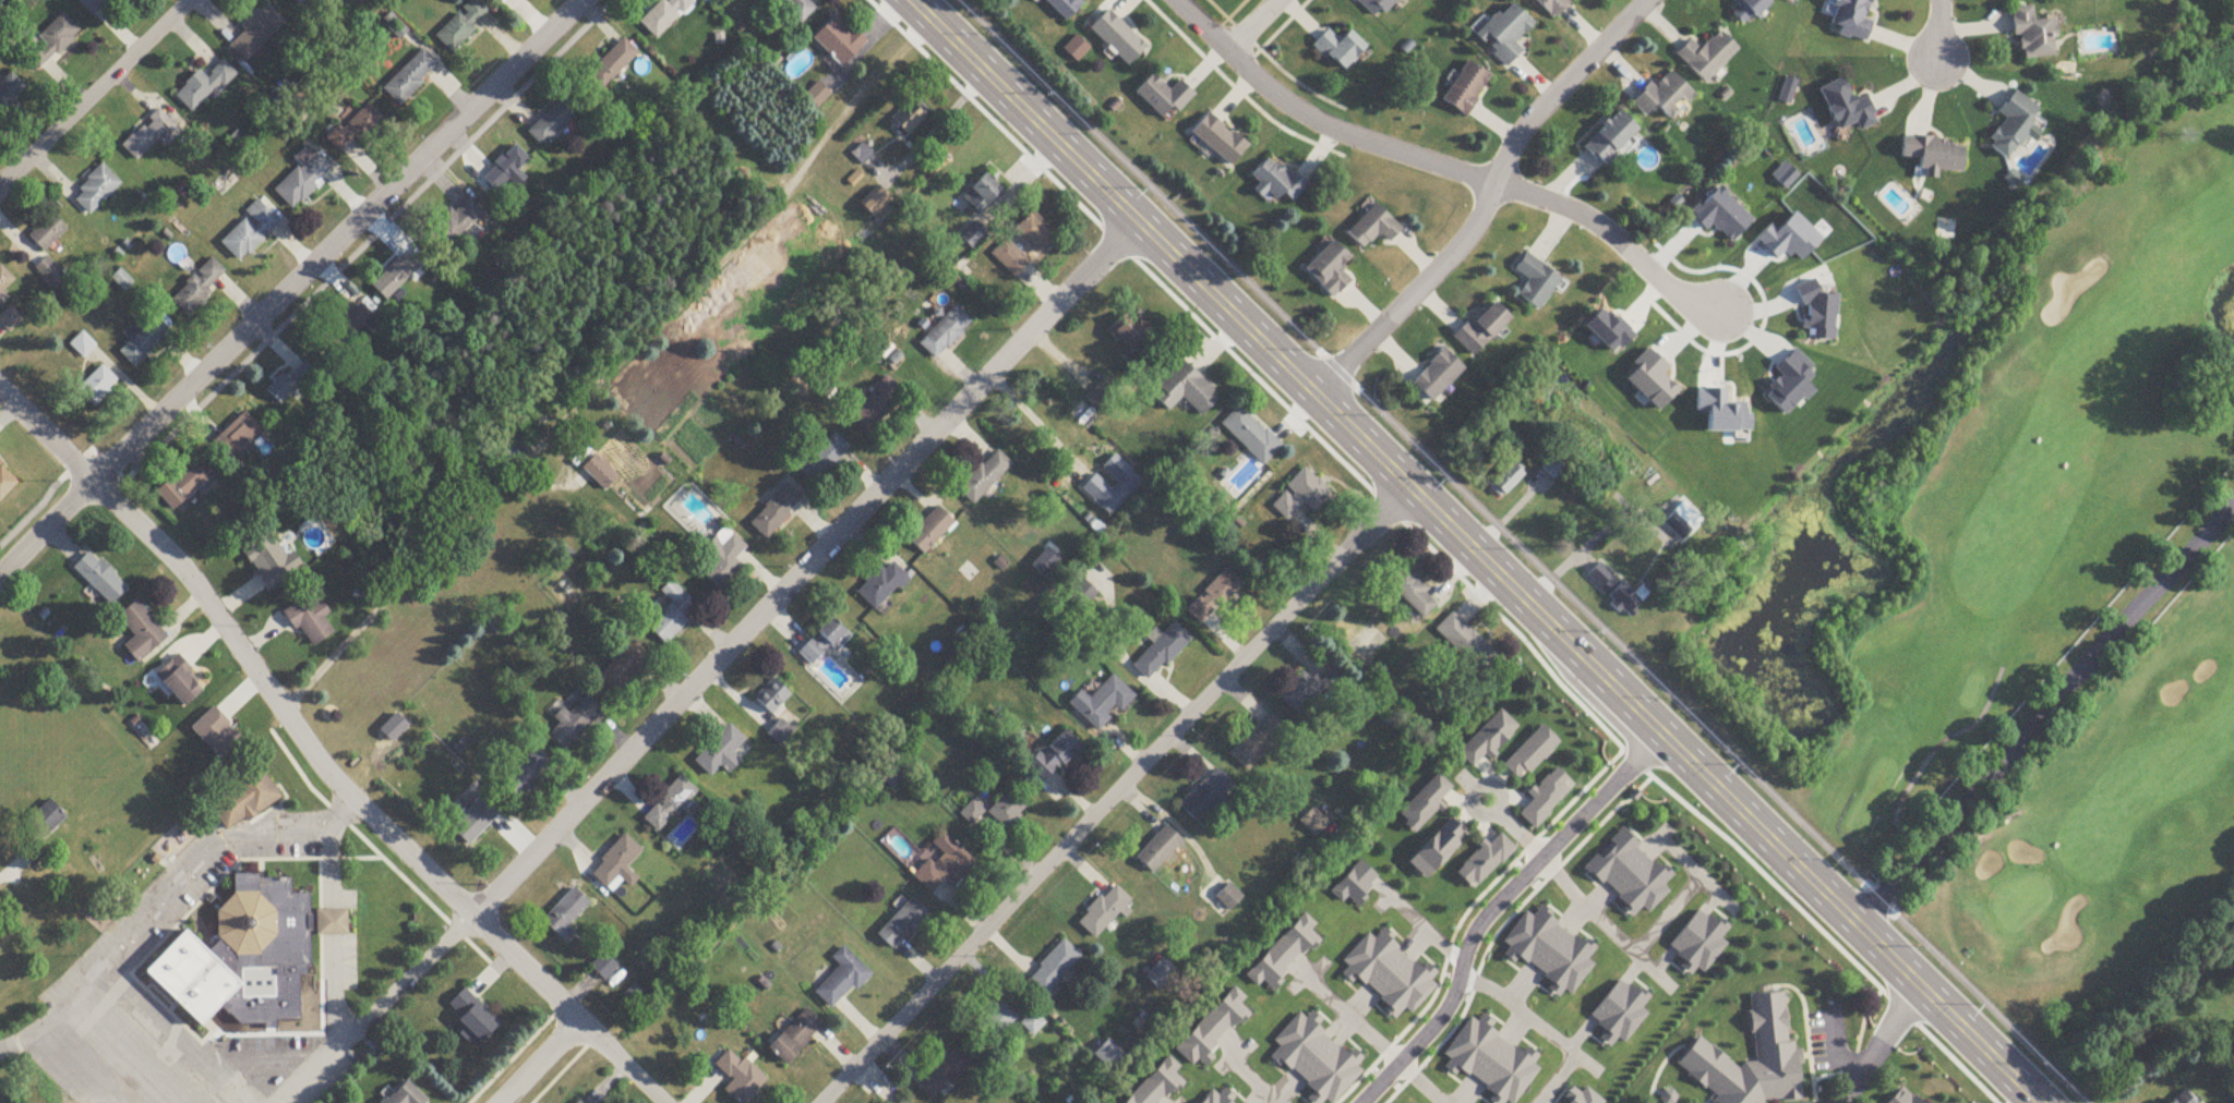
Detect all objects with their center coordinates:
building: (300, 2)
building: (95, 7)
building: (1065, 7)
building: (1377, 7)
building: (1552, 7)
building: (800, 9)
building: (1749, 10)
building: (665, 15)
building: (1851, 20)
road: (1248, 24)
building: (463, 26)
road: (1937, 31)
building: (255, 34)
building: (1505, 34)
building: (2033, 35)
building: (1118, 38)
building: (52, 41)
building: (839, 41)
building: (1341, 50)
building: (1707, 57)
building: (613, 64)
building: (410, 77)
building: (204, 88)
building: (1466, 89)
building: (10, 90)
road: (95, 92)
building: (818, 96)
building: (1664, 97)
building: (1164, 98)
building: (1846, 111)
road: (948, 118)
building: (909, 120)
building: (555, 121)
building: (2014, 125)
building: (356, 128)
building: (151, 136)
building: (1610, 140)
building: (1220, 141)
building: (1934, 156)
building: (507, 170)
road: (1448, 170)
building: (303, 179)
building: (1277, 183)
building: (97, 190)
building: (982, 196)
road: (1485, 202)
building: (876, 205)
building: (455, 225)
building: (1373, 229)
building: (47, 233)
building: (250, 233)
building: (1034, 235)
building: (974, 237)
road: (337, 241)
building: (1010, 259)
building: (1330, 271)
building: (50, 274)
building: (395, 278)
building: (122, 281)
building: (1536, 283)
building: (4, 284)
building: (199, 288)
building: (356, 319)
building: (10, 320)
building: (1481, 331)
building: (1128, 332)
building: (945, 335)
building: (143, 343)
building: (83, 347)
road: (613, 373)
building: (1438, 377)
building: (289, 386)
building: (97, 387)
building: (1185, 391)
building: (875, 405)
road: (1035, 419)
building: (1251, 436)
building: (238, 439)
building: (825, 461)
building: (601, 474)
building: (984, 478)
building: (1506, 483)
building: (1127, 486)
building: (182, 487)
building: (4, 488)
building: (1301, 497)
building: (776, 513)
building: (1683, 522)
road: (45, 530)
building: (932, 532)
road: (1586, 547)
road: (1474, 550)
road: (1505, 550)
road: (1446, 555)
building: (721, 558)
building: (269, 561)
park: (2064, 562)
building: (99, 580)
building: (882, 584)
building: (1617, 591)
building: (1413, 593)
building: (1214, 597)
building: (672, 614)
building: (311, 622)
road: (753, 625)
building: (141, 632)
building: (824, 641)
building: (1466, 643)
building: (1161, 650)
building: (623, 667)
building: (178, 680)
building: (1310, 691)
building: (772, 696)
building: (1102, 703)
road: (2045, 708)
building: (574, 722)
building: (217, 735)
building: (1489, 739)
building: (1259, 742)
building: (721, 752)
building: (1532, 753)
building: (1054, 756)
road: (316, 760)
building: (525, 772)
road: (1493, 789)
road: (1116, 795)
building: (1206, 795)
building: (240, 796)
building: (1547, 797)
building: (670, 804)
building: (1426, 804)
building: (1007, 810)
road: (332, 820)
building: (475, 821)
building: (1314, 822)
building: (40, 831)
parking lot: (283, 833)
road: (1520, 834)
road: (379, 848)
building: (1158, 849)
building: (1439, 849)
road: (357, 856)
road: (281, 858)
building: (1486, 861)
building: (617, 863)
road: (204, 865)
building: (945, 865)
road: (321, 877)
building: (1228, 897)
road: (1497, 908)
parking lot: (152, 912)
building: (1104, 912)
building: (565, 916)
road: (1665, 918)
building: (901, 924)
road: (1605, 924)
road: (1422, 930)
building: (240, 942)
parking lot: (348, 961)
building: (604, 967)
building: (1054, 969)
building: (1161, 975)
building: (842, 981)
road: (332, 996)
building: (632, 996)
road: (235, 1005)
building: (472, 1016)
building: (998, 1021)
building: (1809, 1021)
road: (1357, 1022)
building: (1032, 1025)
road: (1548, 1027)
road: (38, 1028)
building: (795, 1038)
road: (1878, 1041)
road: (127, 1051)
road: (533, 1059)
road: (322, 1063)
building: (944, 1075)
road: (207, 1076)
road: (1249, 1076)
building: (740, 1078)
road: (1421, 1086)
building: (1719, 1094)
building: (405, 1095)
building: (2184, 1099)
building: (903, 1102)

